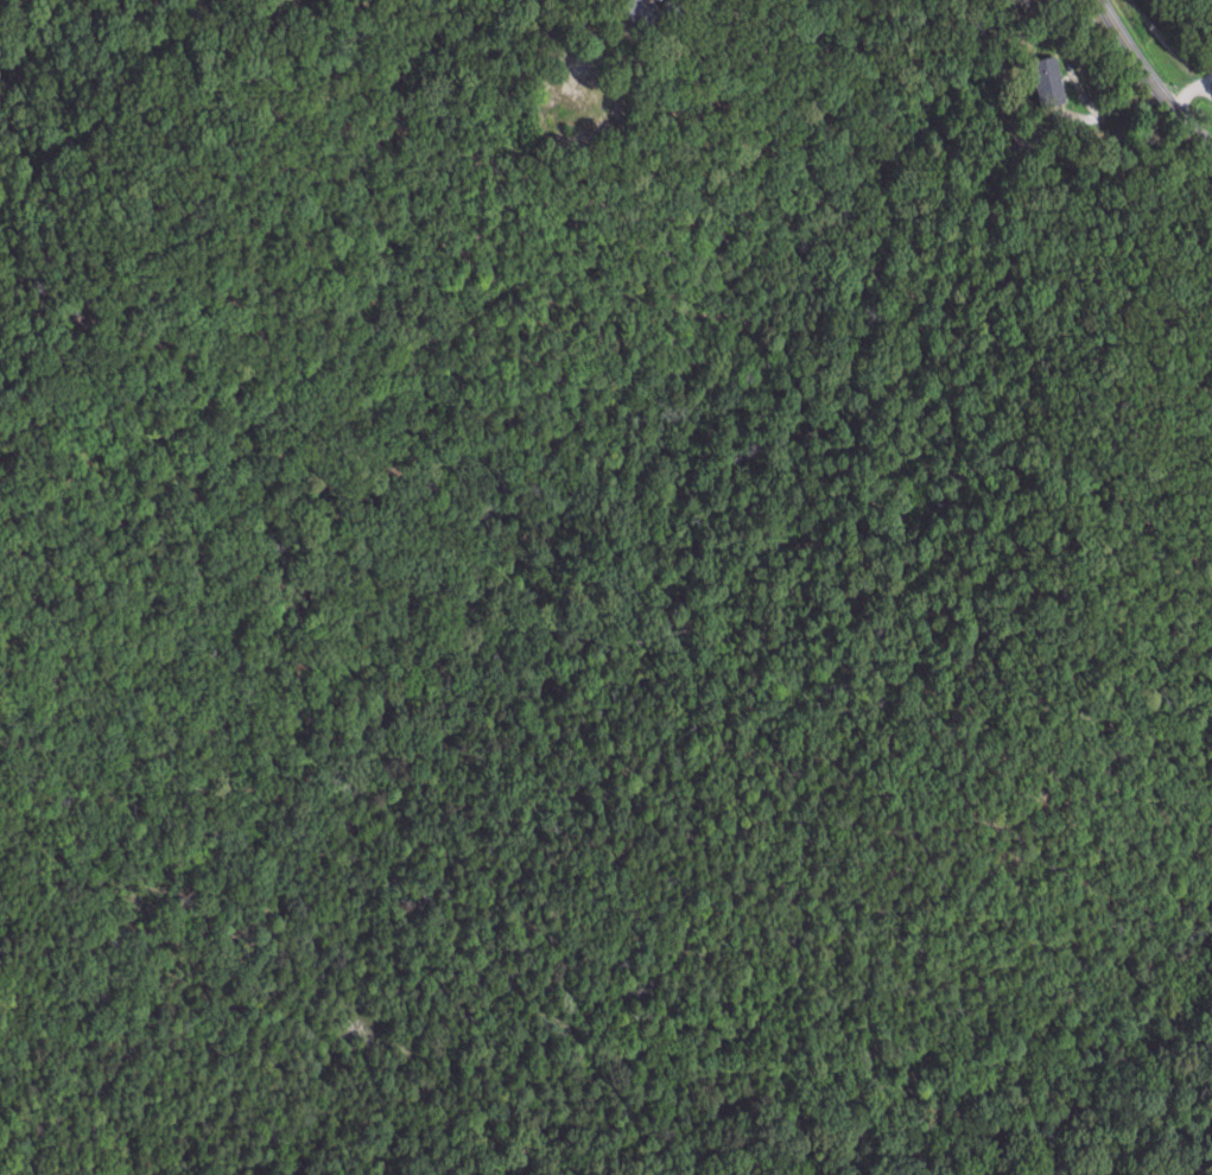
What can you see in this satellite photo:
building: (651, 11)
road: (1151, 76)
building: (1048, 78)
road: (1207, 89)
road: (1191, 91)

